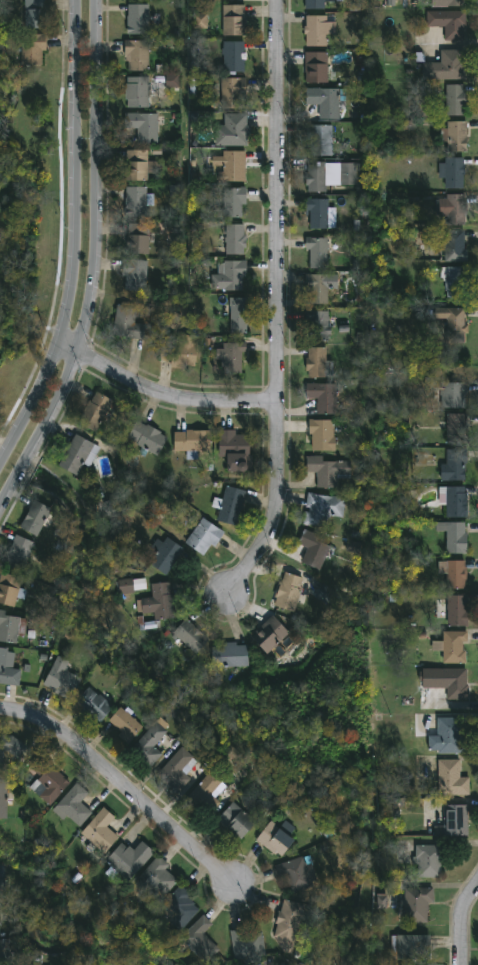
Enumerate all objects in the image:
building: (453, 3)
building: (318, 4)
building: (36, 14)
building: (139, 18)
building: (234, 20)
building: (200, 21)
building: (449, 23)
building: (319, 31)
building: (33, 49)
building: (138, 54)
building: (235, 57)
building: (448, 67)
building: (317, 68)
building: (172, 81)
building: (138, 91)
building: (234, 92)
building: (328, 100)
building: (457, 100)
building: (144, 125)
building: (233, 130)
building: (458, 136)
building: (321, 139)
building: (140, 164)
building: (232, 164)
building: (455, 172)
building: (332, 173)
building: (139, 200)
building: (235, 201)
building: (455, 208)
building: (318, 212)
park: (29, 213)
building: (139, 238)
building: (236, 238)
road: (75, 239)
building: (428, 242)
building: (456, 245)
building: (319, 250)
road: (92, 259)
building: (136, 273)
building: (230, 274)
building: (456, 280)
building: (321, 285)
road: (278, 311)
building: (239, 314)
building: (125, 320)
building: (174, 321)
building: (454, 322)
building: (320, 324)
building: (182, 351)
building: (234, 356)
building: (319, 362)
building: (449, 391)
building: (325, 396)
road: (163, 404)
building: (96, 411)
building: (458, 427)
building: (323, 435)
building: (143, 438)
building: (193, 441)
building: (237, 450)
building: (77, 454)
building: (456, 465)
building: (328, 470)
building: (455, 501)
building: (231, 505)
building: (324, 508)
building: (37, 517)
building: (203, 533)
building: (456, 536)
building: (314, 549)
building: (20, 553)
building: (166, 554)
building: (455, 573)
building: (131, 585)
building: (11, 589)
building: (289, 591)
building: (160, 602)
building: (459, 610)
building: (10, 626)
building: (271, 634)
building: (190, 636)
building: (453, 647)
building: (231, 655)
building: (9, 668)
building: (63, 678)
building: (449, 681)
building: (96, 704)
building: (126, 725)
building: (450, 736)
building: (150, 746)
building: (10, 748)
building: (178, 769)
building: (452, 777)
building: (48, 781)
road: (117, 785)
building: (210, 791)
building: (3, 799)
building: (73, 805)
building: (238, 820)
building: (456, 820)
building: (101, 831)
building: (278, 837)
building: (129, 860)
building: (431, 860)
building: (296, 874)
building: (157, 881)
building: (1, 882)
building: (381, 902)
building: (418, 904)
building: (178, 909)
road: (461, 920)
building: (290, 921)
building: (200, 931)
building: (246, 946)
building: (411, 947)
building: (4, 956)

